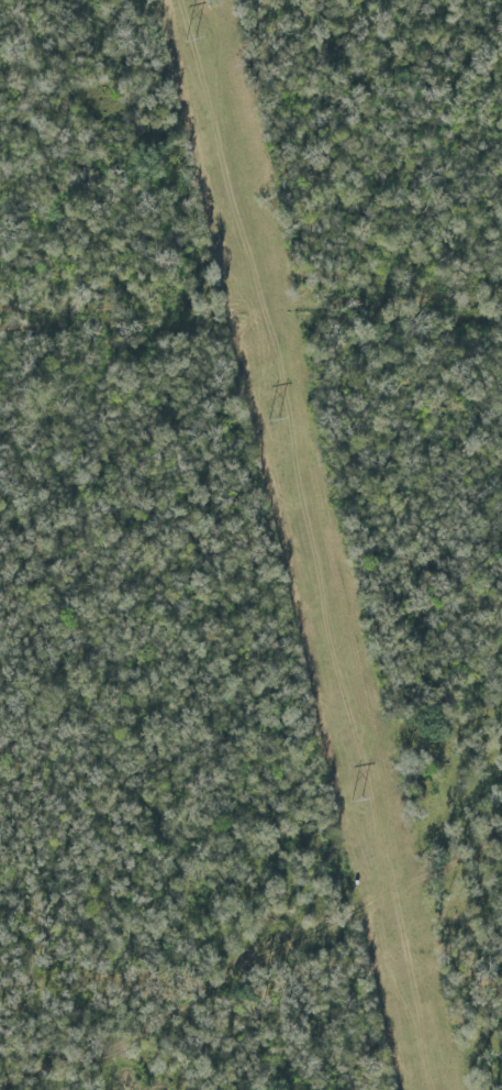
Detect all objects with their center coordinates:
power tower: (189, 38)
power tower: (272, 419)
power tower: (357, 802)

